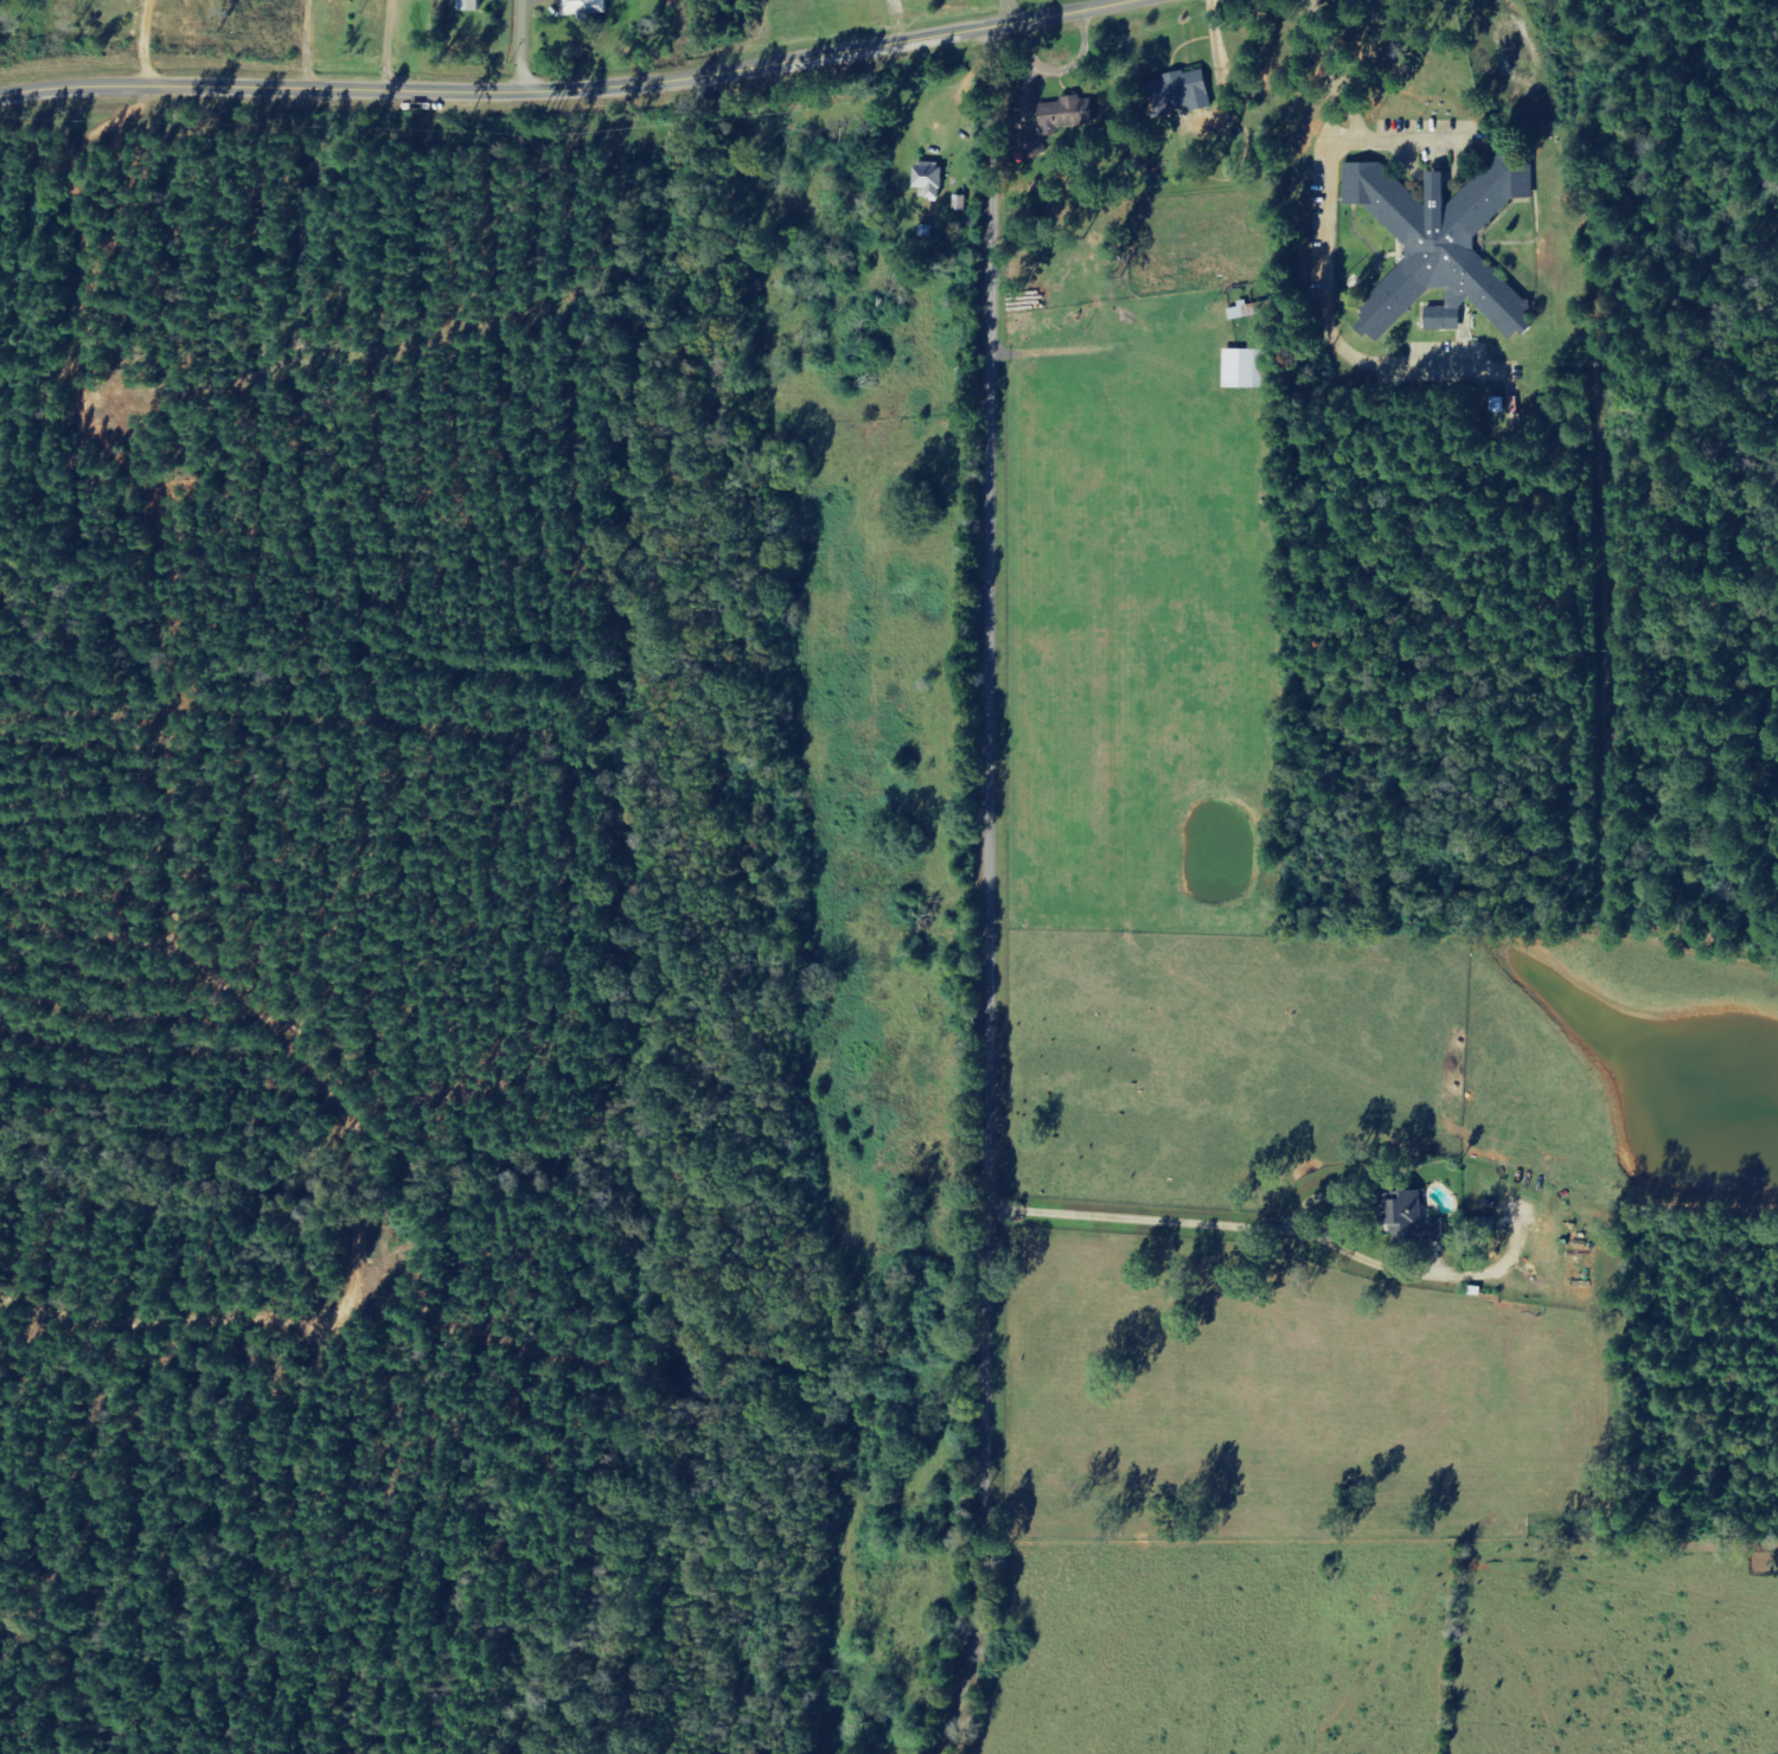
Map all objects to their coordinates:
building: (474, 5)
building: (586, 7)
road: (565, 89)
building: (1192, 91)
building: (1066, 117)
building: (933, 180)
building: (1445, 248)
building: (1253, 311)
building: (1251, 370)
road: (1002, 877)

